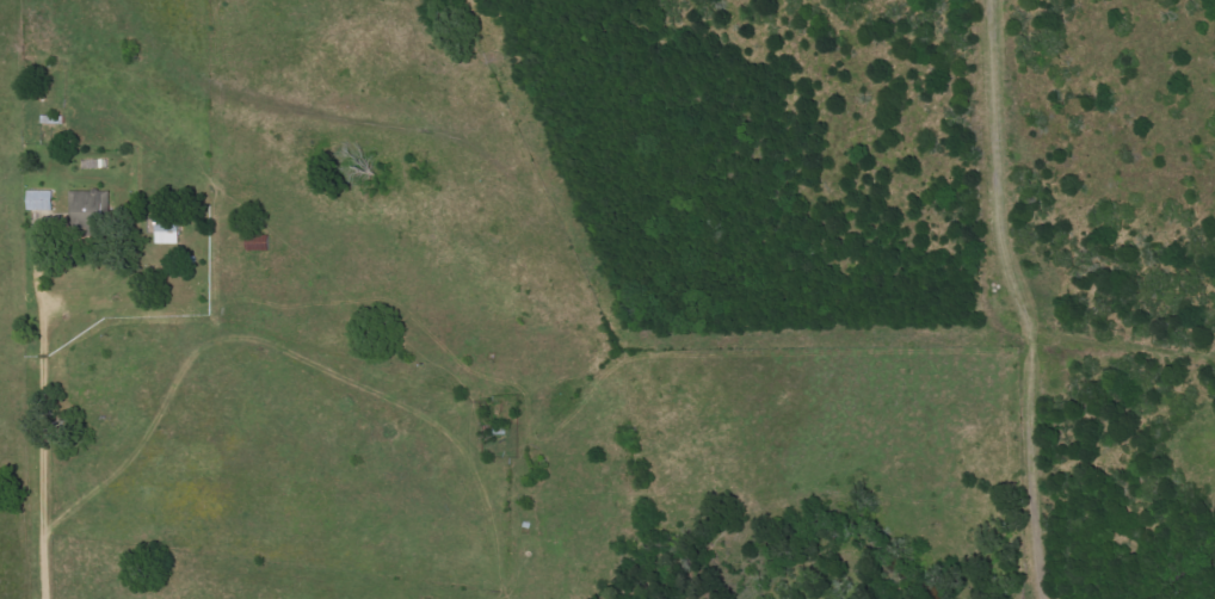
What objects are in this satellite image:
building: (90, 208)
building: (169, 230)
road: (41, 369)
road: (48, 545)

